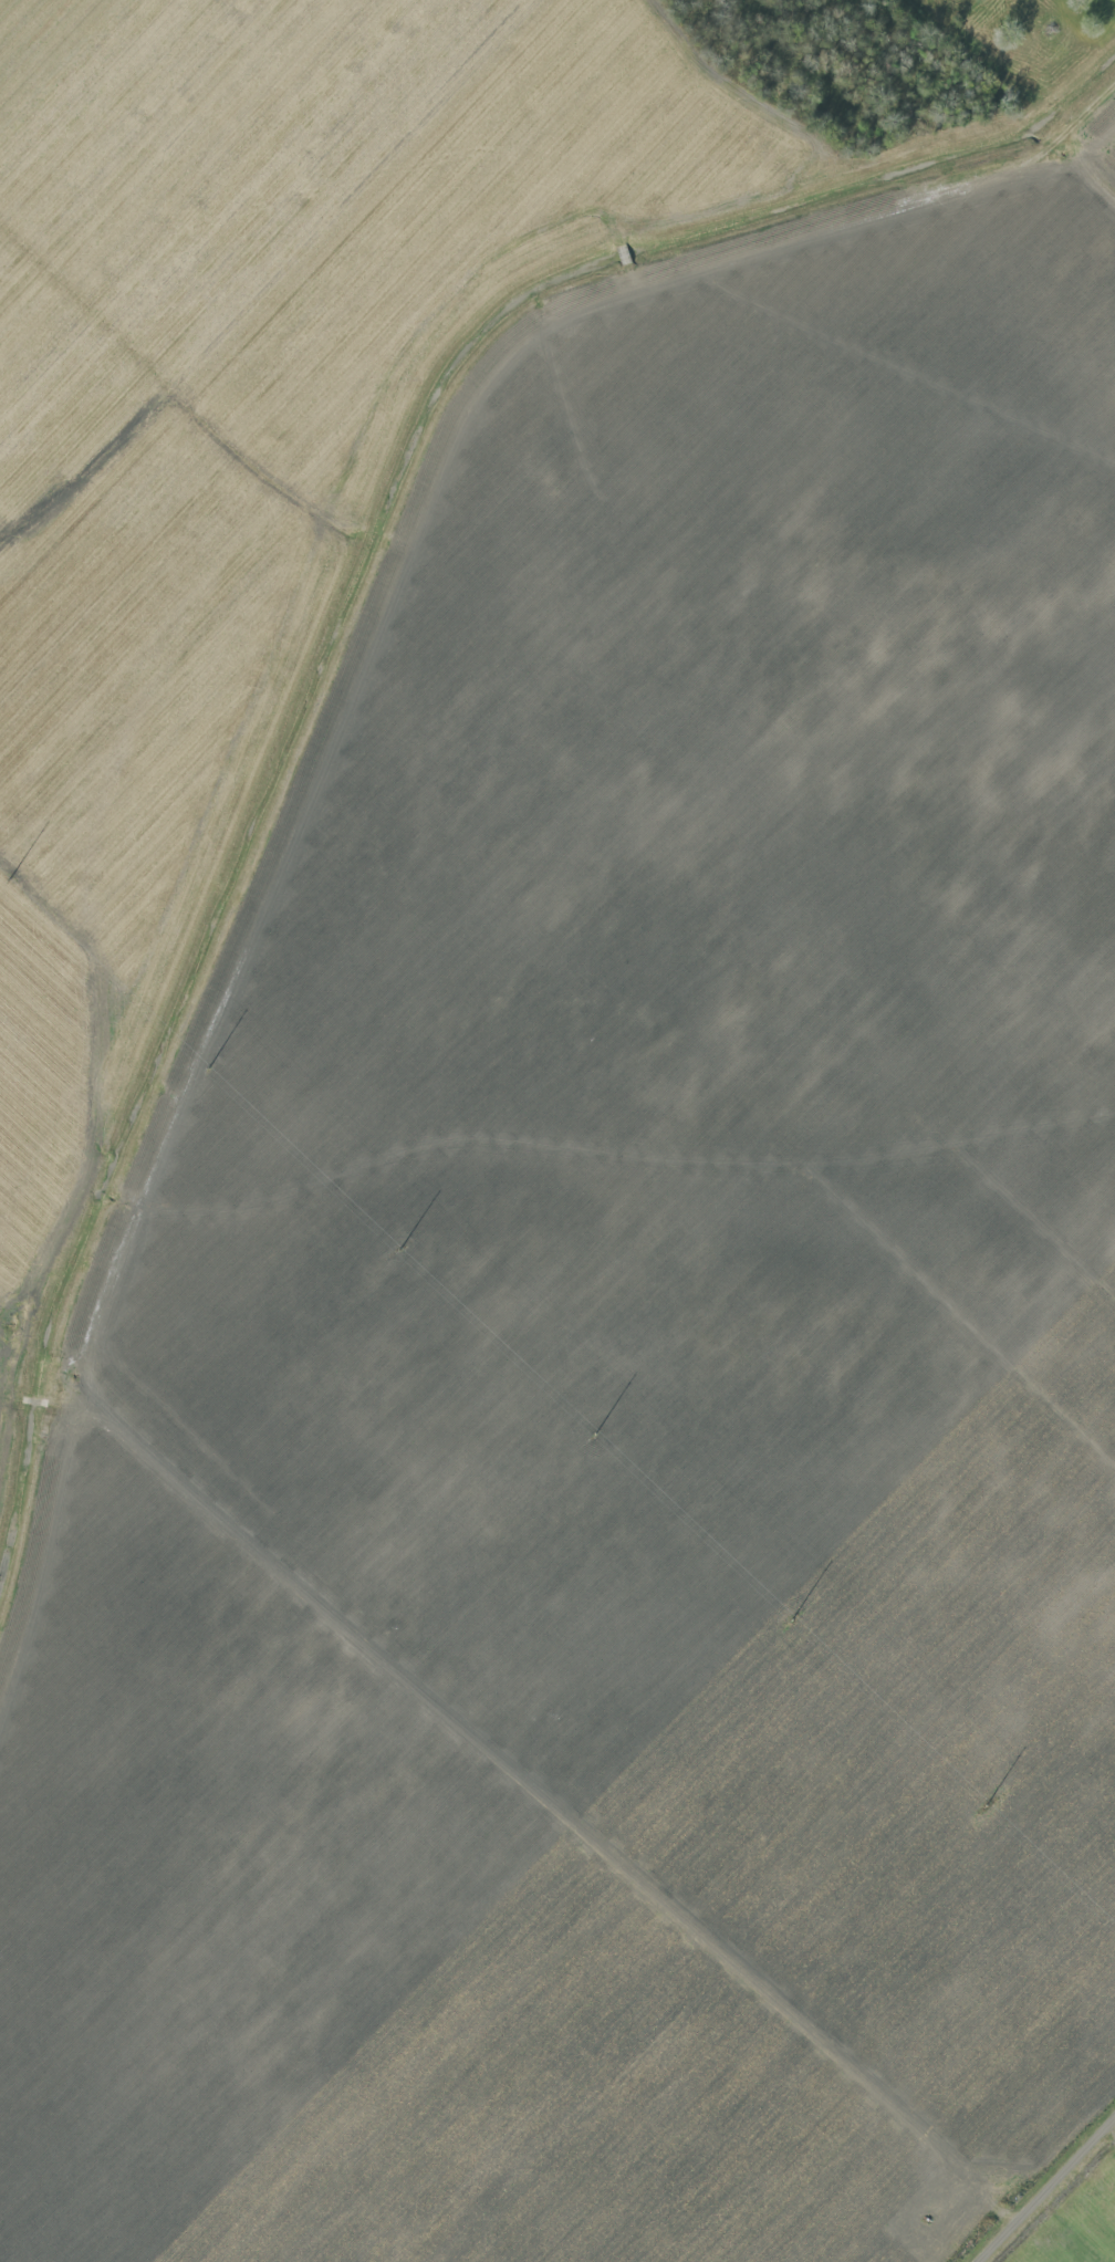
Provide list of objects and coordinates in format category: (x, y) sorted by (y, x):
road: (1040, 2185)

